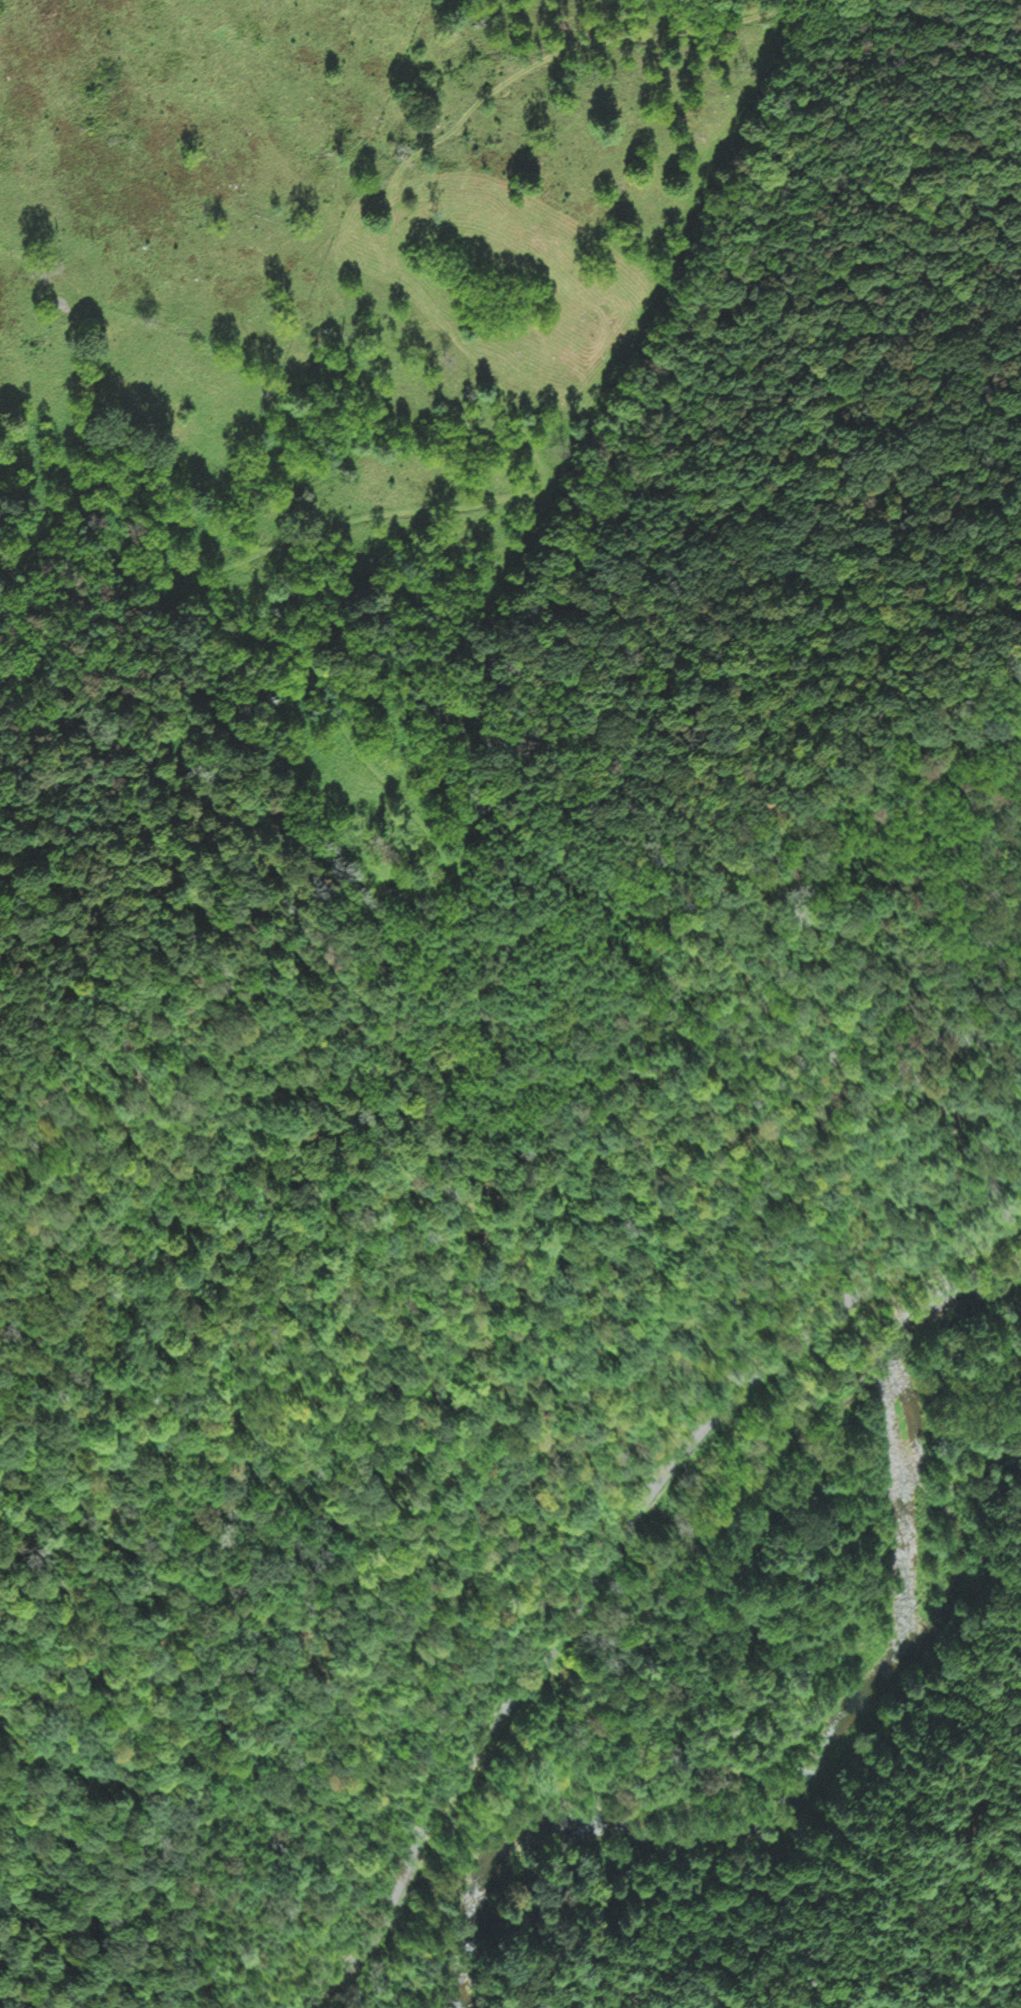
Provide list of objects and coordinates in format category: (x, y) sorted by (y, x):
road: (603, 1553)

